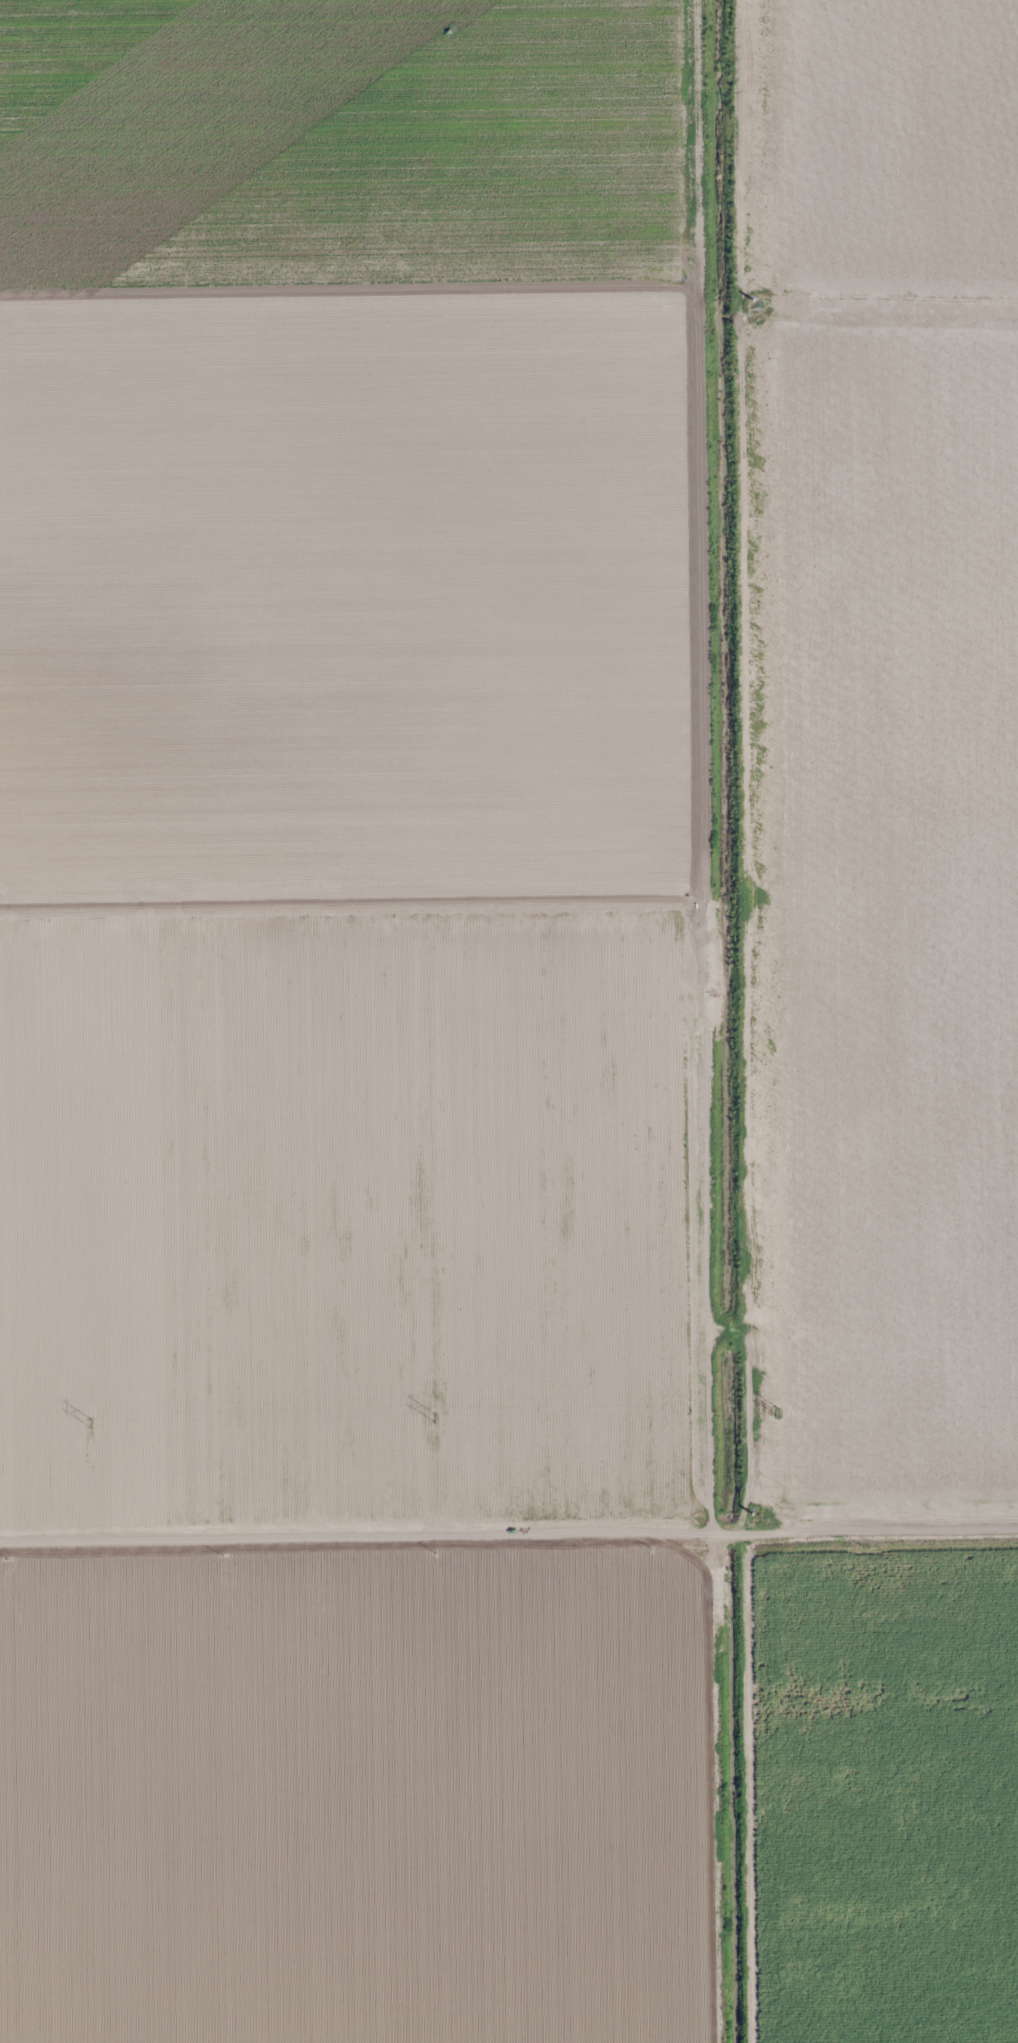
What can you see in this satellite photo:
power tower: (779, 1413)
power tower: (436, 1418)
power tower: (90, 1424)
road: (509, 1538)

